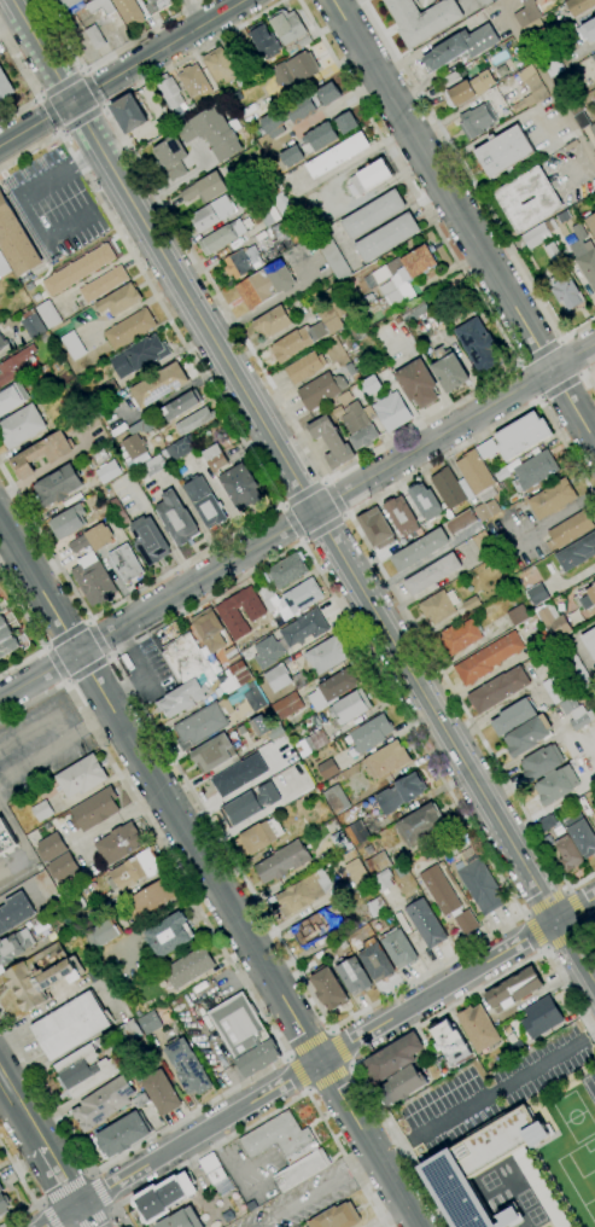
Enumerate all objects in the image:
building: (89, 0)
building: (91, 0)
building: (565, 0)
road: (503, 1)
building: (483, 2)
building: (63, 5)
building: (100, 6)
building: (156, 6)
building: (577, 7)
building: (129, 12)
road: (192, 13)
building: (526, 13)
building: (421, 19)
building: (286, 27)
building: (588, 30)
building: (94, 37)
building: (264, 41)
building: (304, 41)
road: (427, 46)
building: (461, 47)
road: (159, 51)
road: (41, 52)
road: (107, 57)
building: (593, 58)
building: (550, 62)
building: (218, 65)
road: (81, 70)
building: (296, 70)
building: (451, 80)
road: (30, 81)
building: (194, 81)
road: (548, 83)
road: (60, 86)
building: (5, 87)
building: (471, 88)
road: (91, 89)
building: (530, 89)
building: (170, 93)
road: (39, 97)
road: (351, 98)
building: (311, 103)
traffic signals: (72, 104)
road: (103, 106)
building: (192, 111)
road: (51, 112)
building: (133, 116)
road: (81, 120)
building: (477, 121)
building: (581, 121)
road: (35, 123)
building: (346, 123)
building: (272, 124)
road: (501, 126)
building: (593, 128)
road: (59, 130)
road: (293, 130)
building: (212, 133)
building: (319, 139)
building: (503, 151)
building: (338, 156)
building: (171, 157)
building: (292, 157)
road: (84, 159)
road: (579, 167)
flagpole: (386, 169)
building: (368, 178)
road: (183, 182)
road: (472, 184)
building: (205, 188)
building: (272, 190)
building: (509, 199)
building: (281, 204)
building: (268, 213)
building: (214, 214)
building: (373, 214)
road: (31, 219)
road: (463, 220)
building: (591, 223)
building: (550, 226)
building: (285, 233)
building: (223, 235)
building: (536, 237)
building: (386, 238)
building: (16, 243)
building: (553, 254)
building: (332, 255)
building: (240, 263)
building: (587, 263)
building: (4, 266)
building: (78, 269)
building: (396, 280)
building: (104, 284)
building: (266, 285)
building: (566, 293)
building: (336, 300)
building: (118, 301)
building: (477, 309)
building: (418, 312)
building: (48, 314)
building: (274, 321)
building: (31, 324)
building: (129, 328)
building: (358, 330)
road: (560, 339)
building: (2, 342)
building: (298, 342)
building: (74, 345)
building: (478, 345)
road: (538, 353)
flagpole: (186, 355)
building: (139, 356)
road: (515, 365)
building: (16, 366)
building: (305, 367)
building: (449, 370)
road: (581, 374)
road: (584, 378)
building: (418, 384)
road: (559, 384)
building: (158, 385)
building: (372, 385)
building: (45, 388)
building: (109, 389)
building: (321, 390)
building: (11, 397)
building: (344, 397)
road: (538, 397)
building: (181, 405)
building: (391, 411)
building: (194, 421)
building: (357, 424)
building: (21, 426)
building: (521, 435)
building: (135, 441)
building: (331, 442)
building: (180, 448)
road: (566, 448)
building: (486, 449)
building: (42, 454)
building: (215, 458)
road: (442, 458)
road: (252, 459)
building: (153, 466)
building: (529, 470)
building: (107, 472)
building: (473, 475)
road: (327, 478)
road: (323, 482)
building: (58, 485)
building: (240, 487)
building: (448, 488)
road: (303, 494)
building: (552, 499)
road: (332, 500)
building: (425, 501)
building: (205, 502)
road: (281, 506)
building: (116, 510)
building: (486, 510)
road: (314, 511)
road: (344, 516)
building: (401, 516)
building: (176, 519)
road: (297, 522)
building: (461, 522)
road: (292, 523)
building: (64, 524)
building: (375, 528)
road: (322, 529)
building: (568, 530)
building: (93, 539)
building: (148, 541)
road: (301, 541)
building: (482, 541)
building: (420, 548)
building: (577, 553)
building: (126, 564)
building: (286, 570)
building: (432, 574)
building: (94, 583)
building: (264, 592)
building: (537, 594)
building: (296, 598)
building: (585, 598)
building: (469, 604)
building: (438, 606)
building: (518, 615)
building: (231, 618)
road: (88, 621)
building: (553, 622)
building: (304, 629)
road: (33, 633)
road: (66, 634)
building: (209, 636)
building: (460, 636)
building: (6, 639)
road: (95, 639)
building: (541, 641)
building: (590, 641)
road: (45, 647)
building: (268, 652)
building: (232, 655)
building: (327, 655)
road: (107, 656)
building: (185, 658)
building: (488, 658)
road: (57, 663)
building: (573, 664)
road: (84, 668)
building: (210, 675)
building: (235, 678)
building: (278, 678)
building: (298, 680)
road: (65, 681)
building: (332, 688)
building: (556, 688)
building: (498, 690)
road: (51, 691)
building: (252, 694)
building: (181, 698)
building: (291, 703)
building: (350, 706)
building: (576, 711)
road: (466, 714)
road: (100, 716)
building: (513, 717)
building: (203, 723)
road: (37, 727)
building: (275, 732)
building: (371, 733)
building: (527, 735)
road: (45, 751)
building: (214, 752)
building: (386, 761)
building: (541, 762)
building: (327, 769)
building: (239, 774)
building: (81, 777)
building: (556, 785)
building: (401, 793)
building: (336, 797)
building: (251, 804)
building: (593, 806)
building: (95, 809)
building: (42, 810)
building: (594, 814)
building: (546, 824)
building: (420, 825)
building: (349, 835)
building: (581, 835)
building: (258, 837)
building: (5, 838)
road: (23, 842)
building: (118, 843)
building: (51, 848)
building: (567, 854)
building: (282, 861)
building: (377, 863)
building: (97, 866)
building: (63, 867)
building: (134, 871)
building: (356, 872)
road: (208, 873)
building: (383, 880)
building: (479, 884)
building: (46, 886)
building: (439, 890)
road: (566, 890)
building: (301, 894)
building: (147, 900)
road: (544, 903)
building: (375, 907)
road: (573, 907)
building: (14, 912)
road: (524, 915)
building: (466, 921)
building: (425, 923)
road: (585, 923)
building: (317, 925)
road: (589, 925)
road: (539, 929)
building: (105, 931)
road: (535, 931)
road: (564, 934)
building: (169, 935)
building: (14, 946)
building: (398, 948)
road: (543, 949)
road: (574, 952)
building: (375, 963)
building: (189, 967)
road: (249, 972)
building: (40, 976)
building: (354, 977)
parking lot: (226, 984)
building: (328, 988)
building: (514, 989)
road: (437, 990)
road: (42, 1012)
building: (541, 1017)
building: (150, 1023)
building: (71, 1025)
road: (5, 1027)
building: (478, 1027)
road: (331, 1028)
road: (329, 1030)
road: (588, 1030)
building: (130, 1031)
building: (244, 1035)
road: (401, 1035)
road: (309, 1043)
building: (449, 1046)
road: (338, 1048)
building: (517, 1048)
road: (285, 1056)
road: (287, 1057)
building: (393, 1058)
road: (317, 1059)
road: (350, 1065)
building: (187, 1068)
building: (84, 1070)
road: (298, 1072)
road: (327, 1076)
building: (401, 1086)
park: (590, 1087)
road: (305, 1089)
parking lot: (489, 1092)
building: (161, 1093)
road: (485, 1094)
building: (140, 1100)
building: (103, 1104)
road: (21, 1111)
park: (573, 1116)
road: (197, 1133)
building: (123, 1134)
building: (279, 1139)
road: (208, 1150)
road: (333, 1155)
road: (345, 1158)
building: (457, 1164)
building: (301, 1170)
building: (215, 1174)
park: (582, 1174)
road: (58, 1175)
road: (91, 1175)
road: (315, 1190)
road: (64, 1191)
road: (27, 1192)
road: (98, 1192)
road: (92, 1194)
building: (162, 1197)
building: (2, 1200)
building: (250, 1204)
road: (37, 1205)
road: (111, 1210)
road: (47, 1215)
road: (84, 1215)
building: (227, 1215)
road: (386, 1215)
road: (93, 1217)
building: (337, 1217)
road: (119, 1219)
building: (180, 1220)

